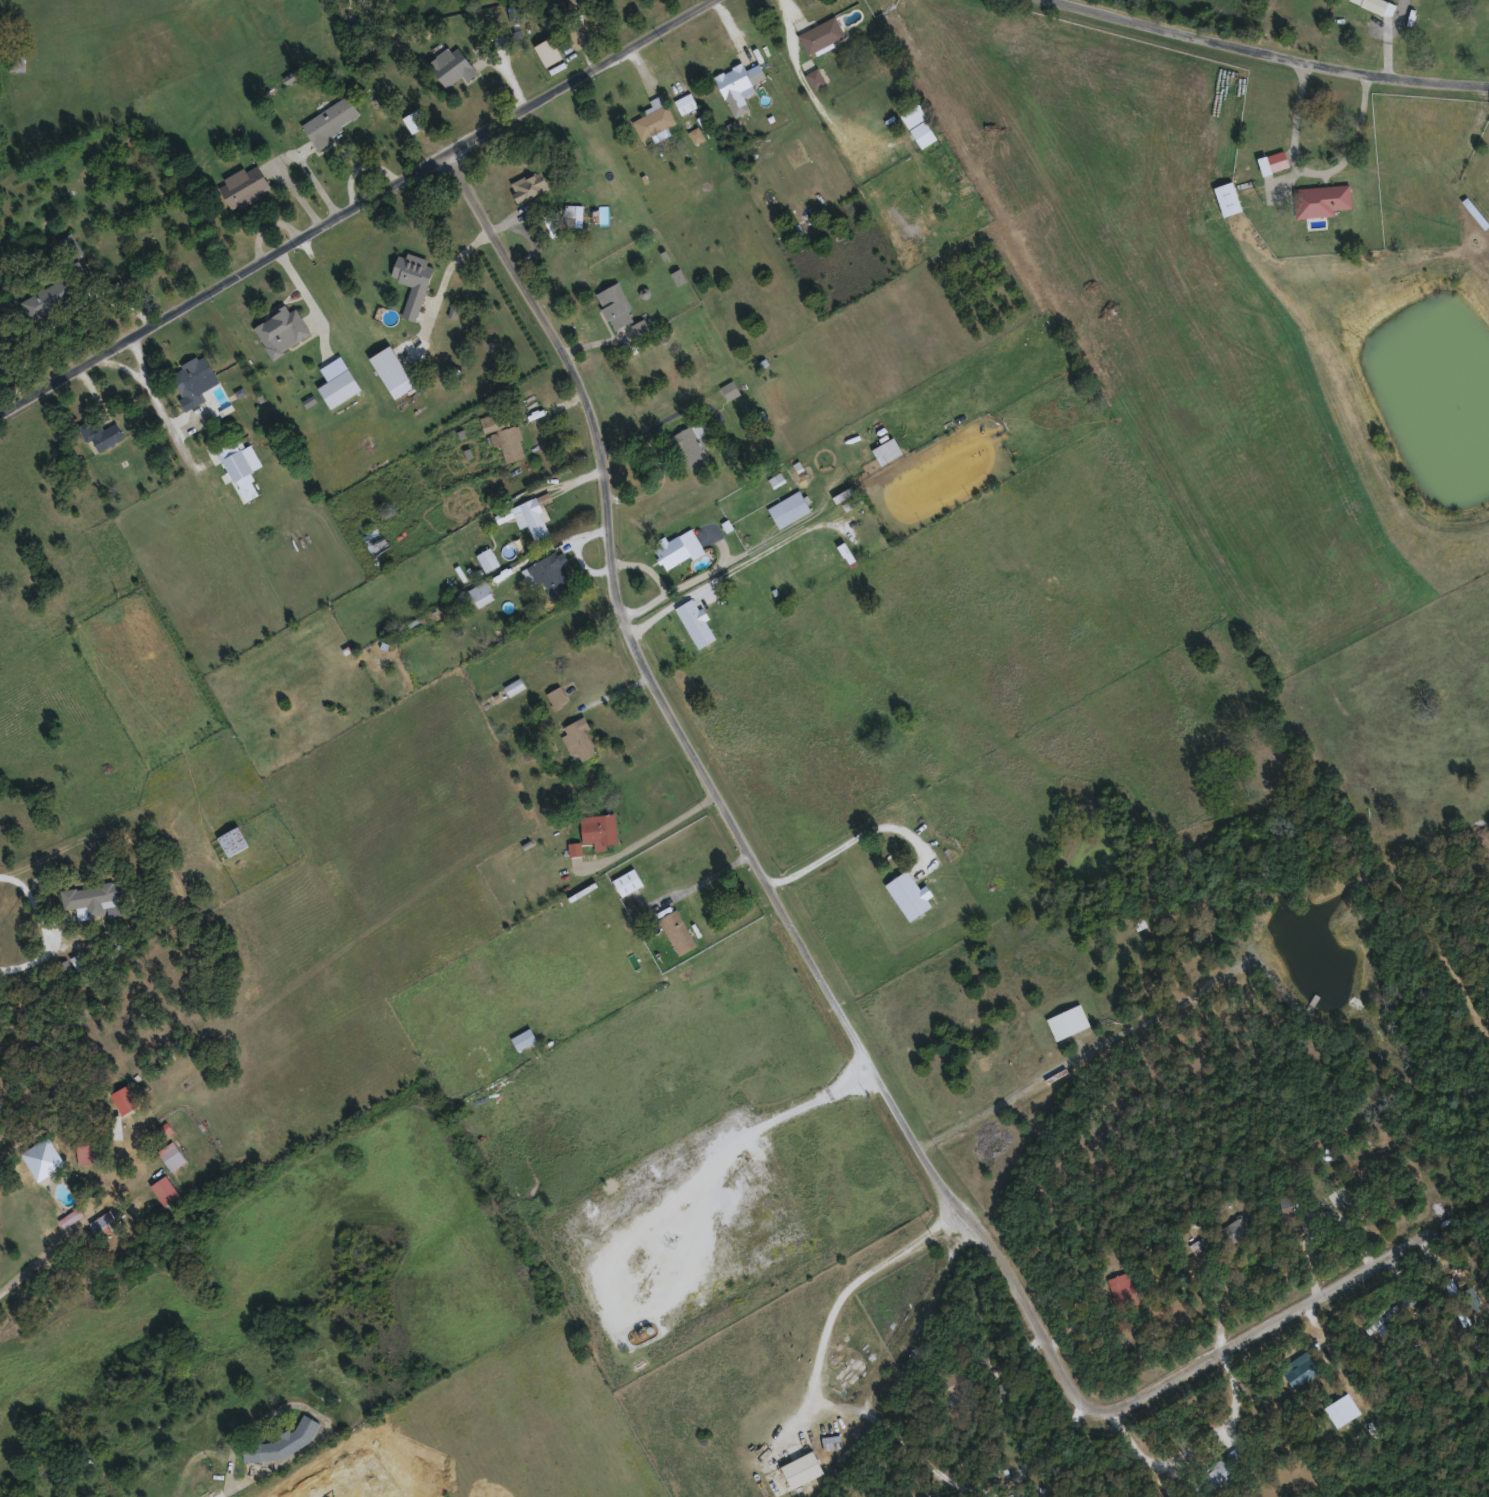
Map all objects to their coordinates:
building: (1379, 6)
building: (1432, 32)
building: (821, 34)
road: (1272, 53)
building: (450, 64)
building: (816, 77)
building: (739, 84)
building: (685, 102)
building: (653, 117)
building: (330, 120)
building: (414, 120)
building: (923, 132)
building: (1274, 161)
road: (1314, 168)
building: (244, 185)
building: (529, 185)
building: (1228, 197)
building: (1322, 199)
road: (357, 208)
building: (69, 246)
building: (414, 274)
road: (446, 278)
building: (48, 298)
building: (615, 306)
road: (118, 366)
building: (392, 371)
building: (192, 378)
road: (155, 405)
road: (660, 418)
building: (489, 422)
building: (102, 434)
building: (510, 443)
building: (692, 445)
building: (240, 467)
building: (1472, 506)
building: (789, 509)
building: (536, 515)
building: (375, 541)
building: (678, 549)
building: (488, 559)
road: (740, 563)
building: (550, 575)
building: (480, 590)
building: (696, 622)
building: (579, 737)
road: (664, 826)
building: (599, 827)
building: (973, 831)
road: (859, 837)
building: (233, 839)
road: (708, 875)
building: (627, 880)
building: (92, 893)
road: (46, 928)
building: (677, 930)
road: (833, 993)
building: (522, 1038)
building: (119, 1082)
road: (1006, 1098)
building: (117, 1126)
building: (84, 1151)
building: (171, 1155)
building: (1336, 1197)
building: (44, 1211)
building: (105, 1225)
building: (1221, 1237)
road: (32, 1267)
building: (1123, 1290)
road: (1472, 1315)
road: (820, 1369)
building: (1301, 1369)
building: (956, 1381)
road: (1363, 1396)
building: (831, 1440)
building: (284, 1442)
road: (1044, 1445)
building: (1238, 1451)
building: (1216, 1474)

